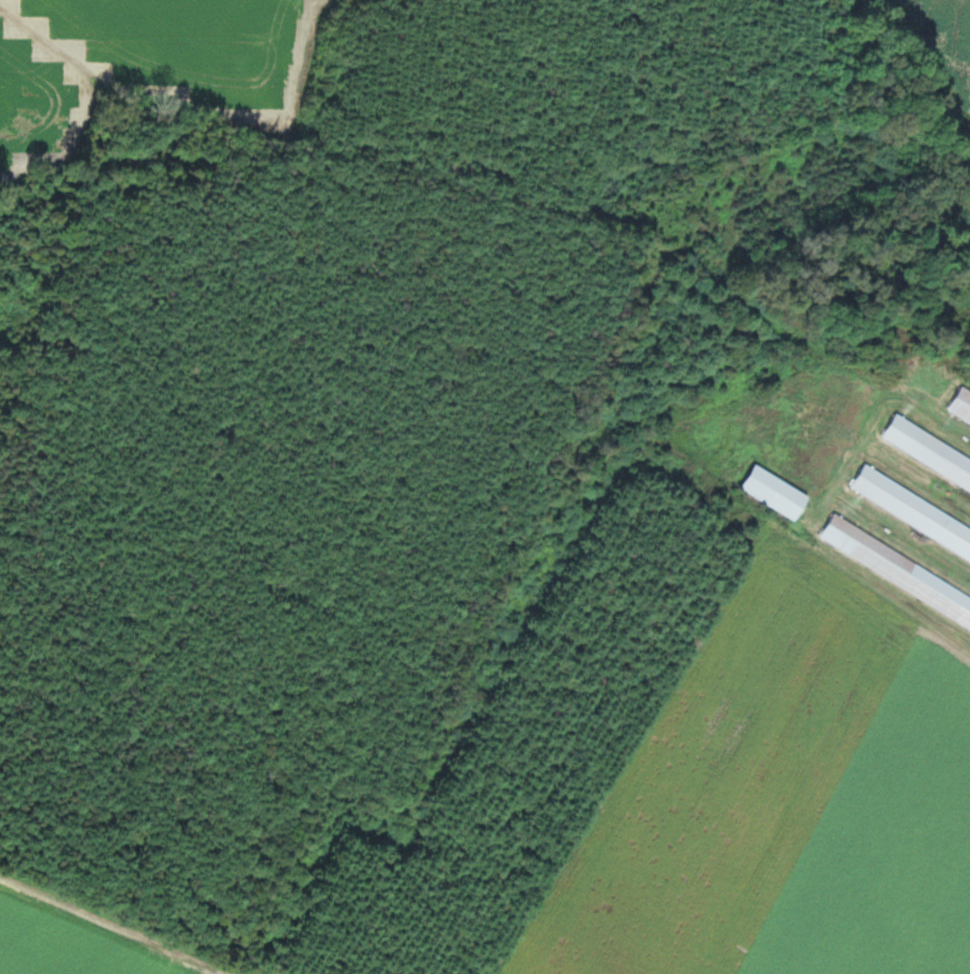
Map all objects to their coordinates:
building: (961, 409)
building: (929, 453)
building: (777, 492)
building: (913, 512)
building: (897, 571)

